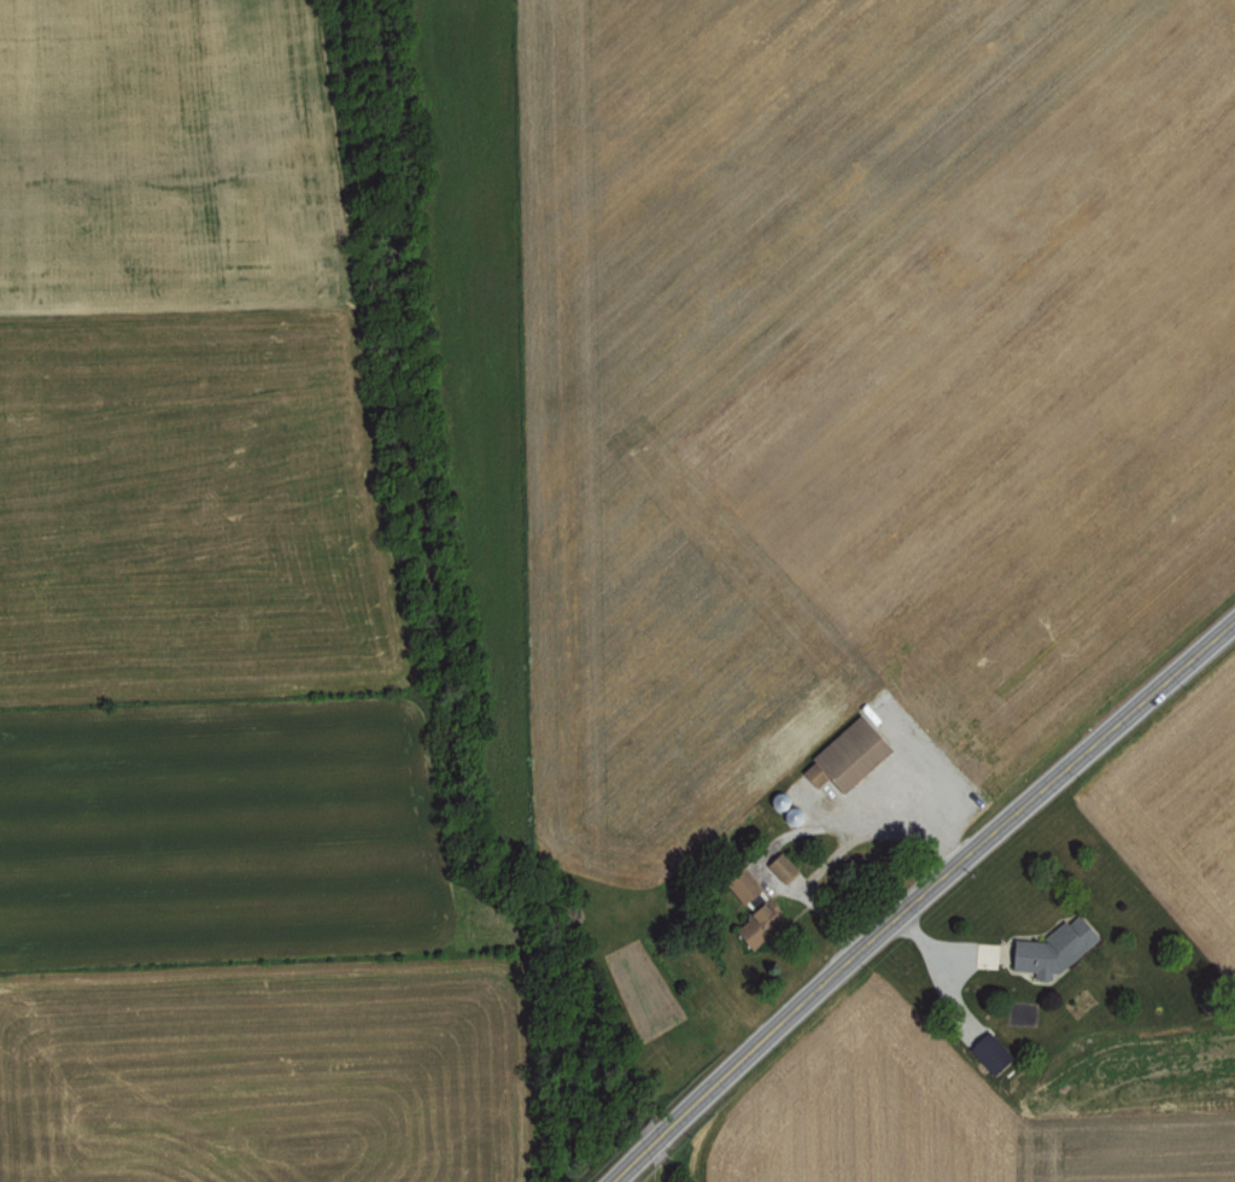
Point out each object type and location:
building: (844, 754)
building: (779, 865)
road: (923, 899)
building: (751, 911)
building: (1048, 948)
building: (988, 1051)

